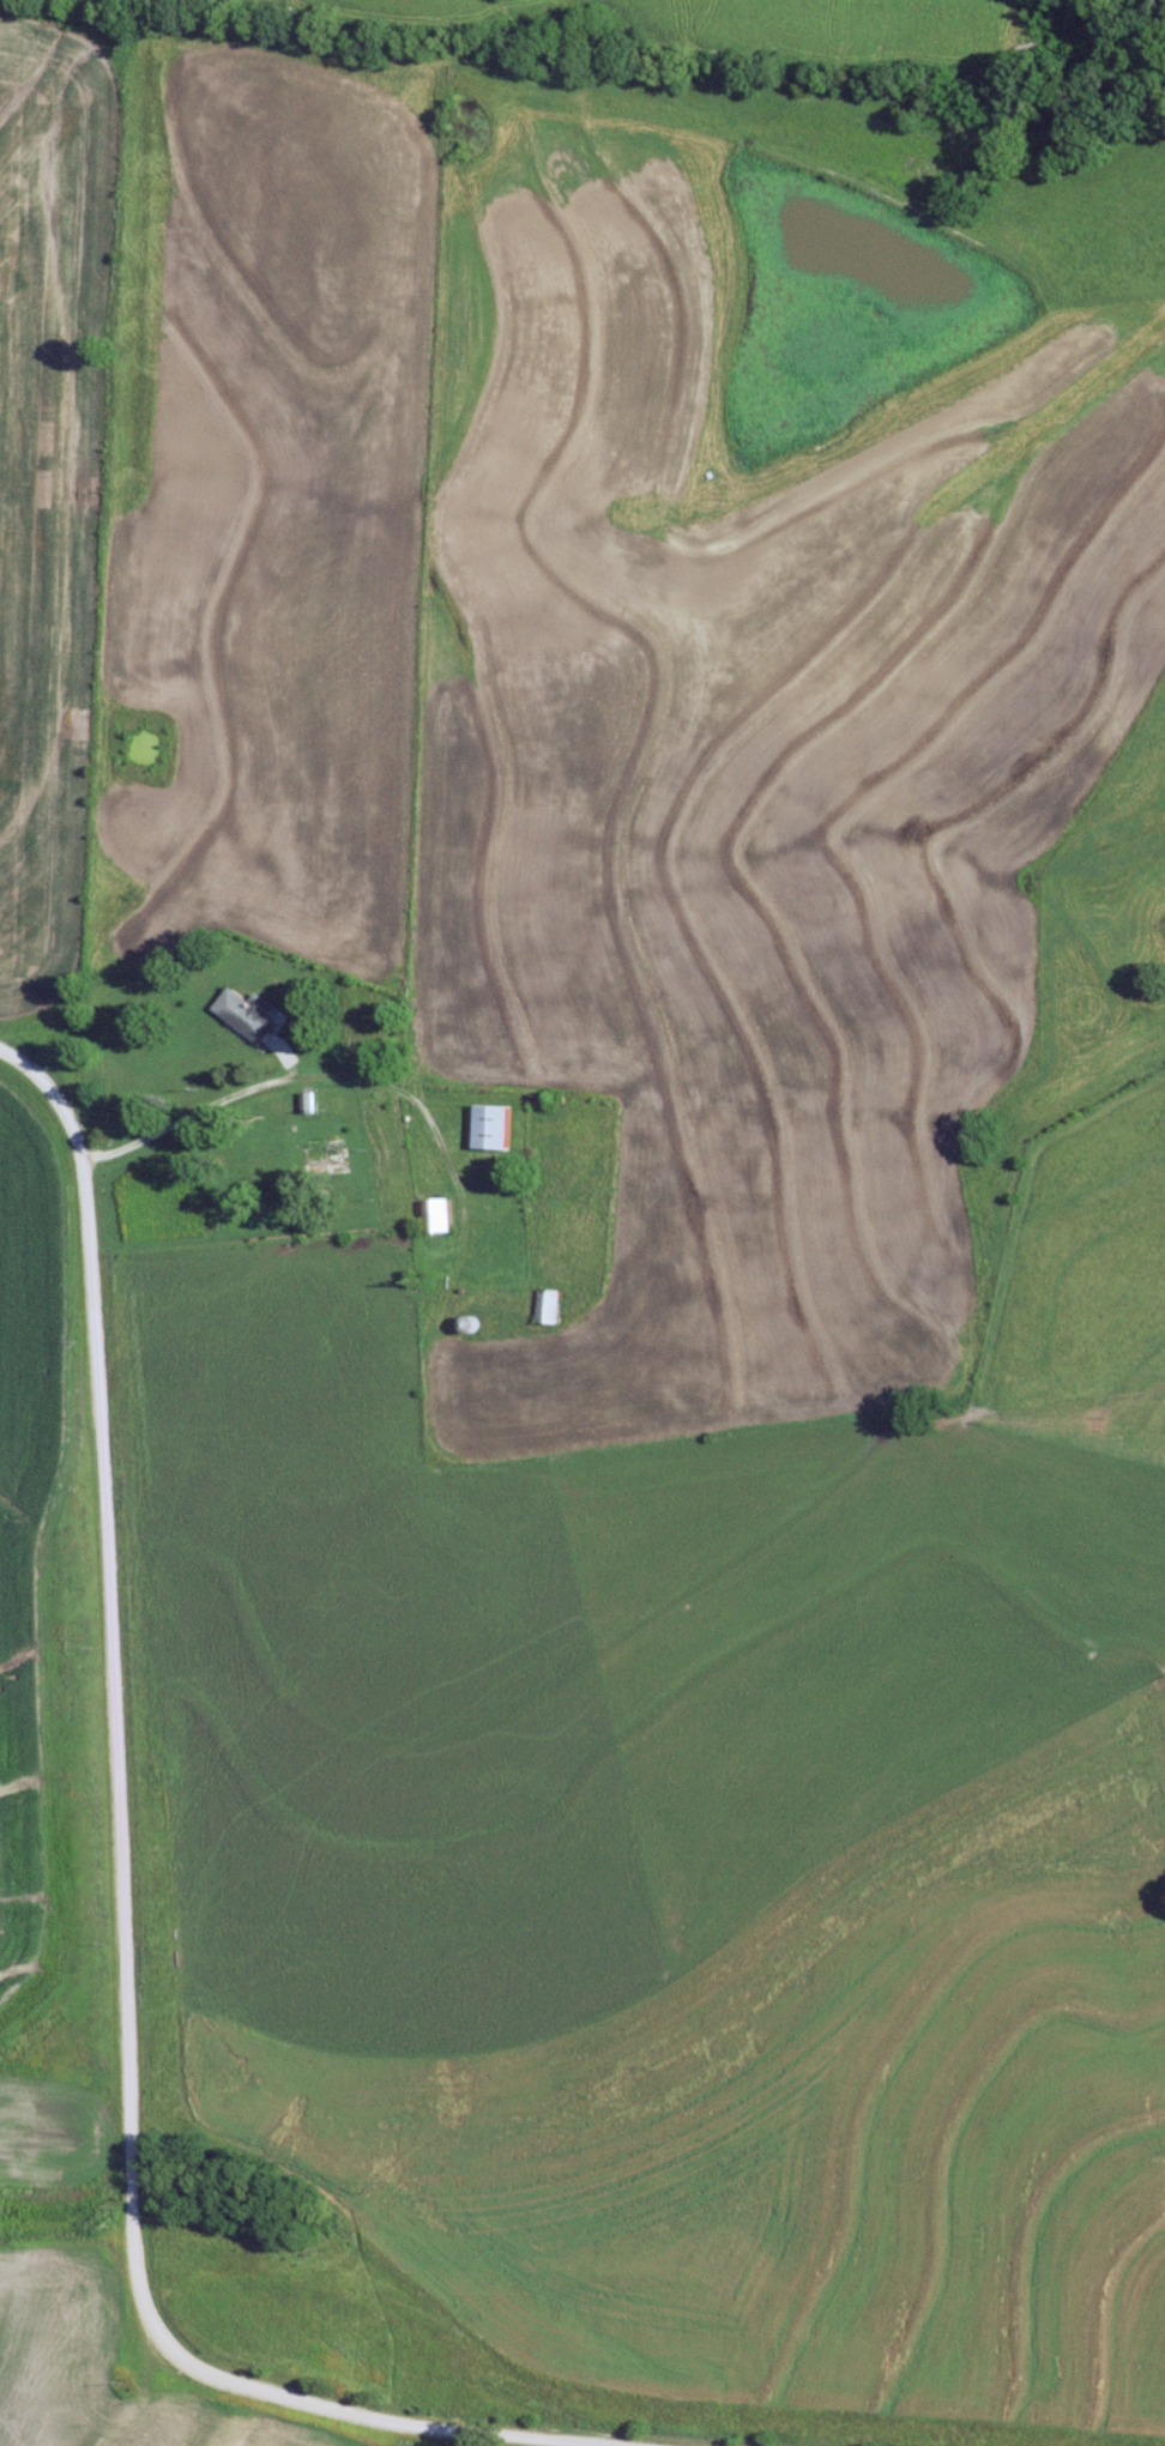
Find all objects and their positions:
building: (246, 1013)
road: (195, 1109)
building: (489, 1125)
building: (436, 1214)
building: (545, 1306)
road: (125, 1790)

